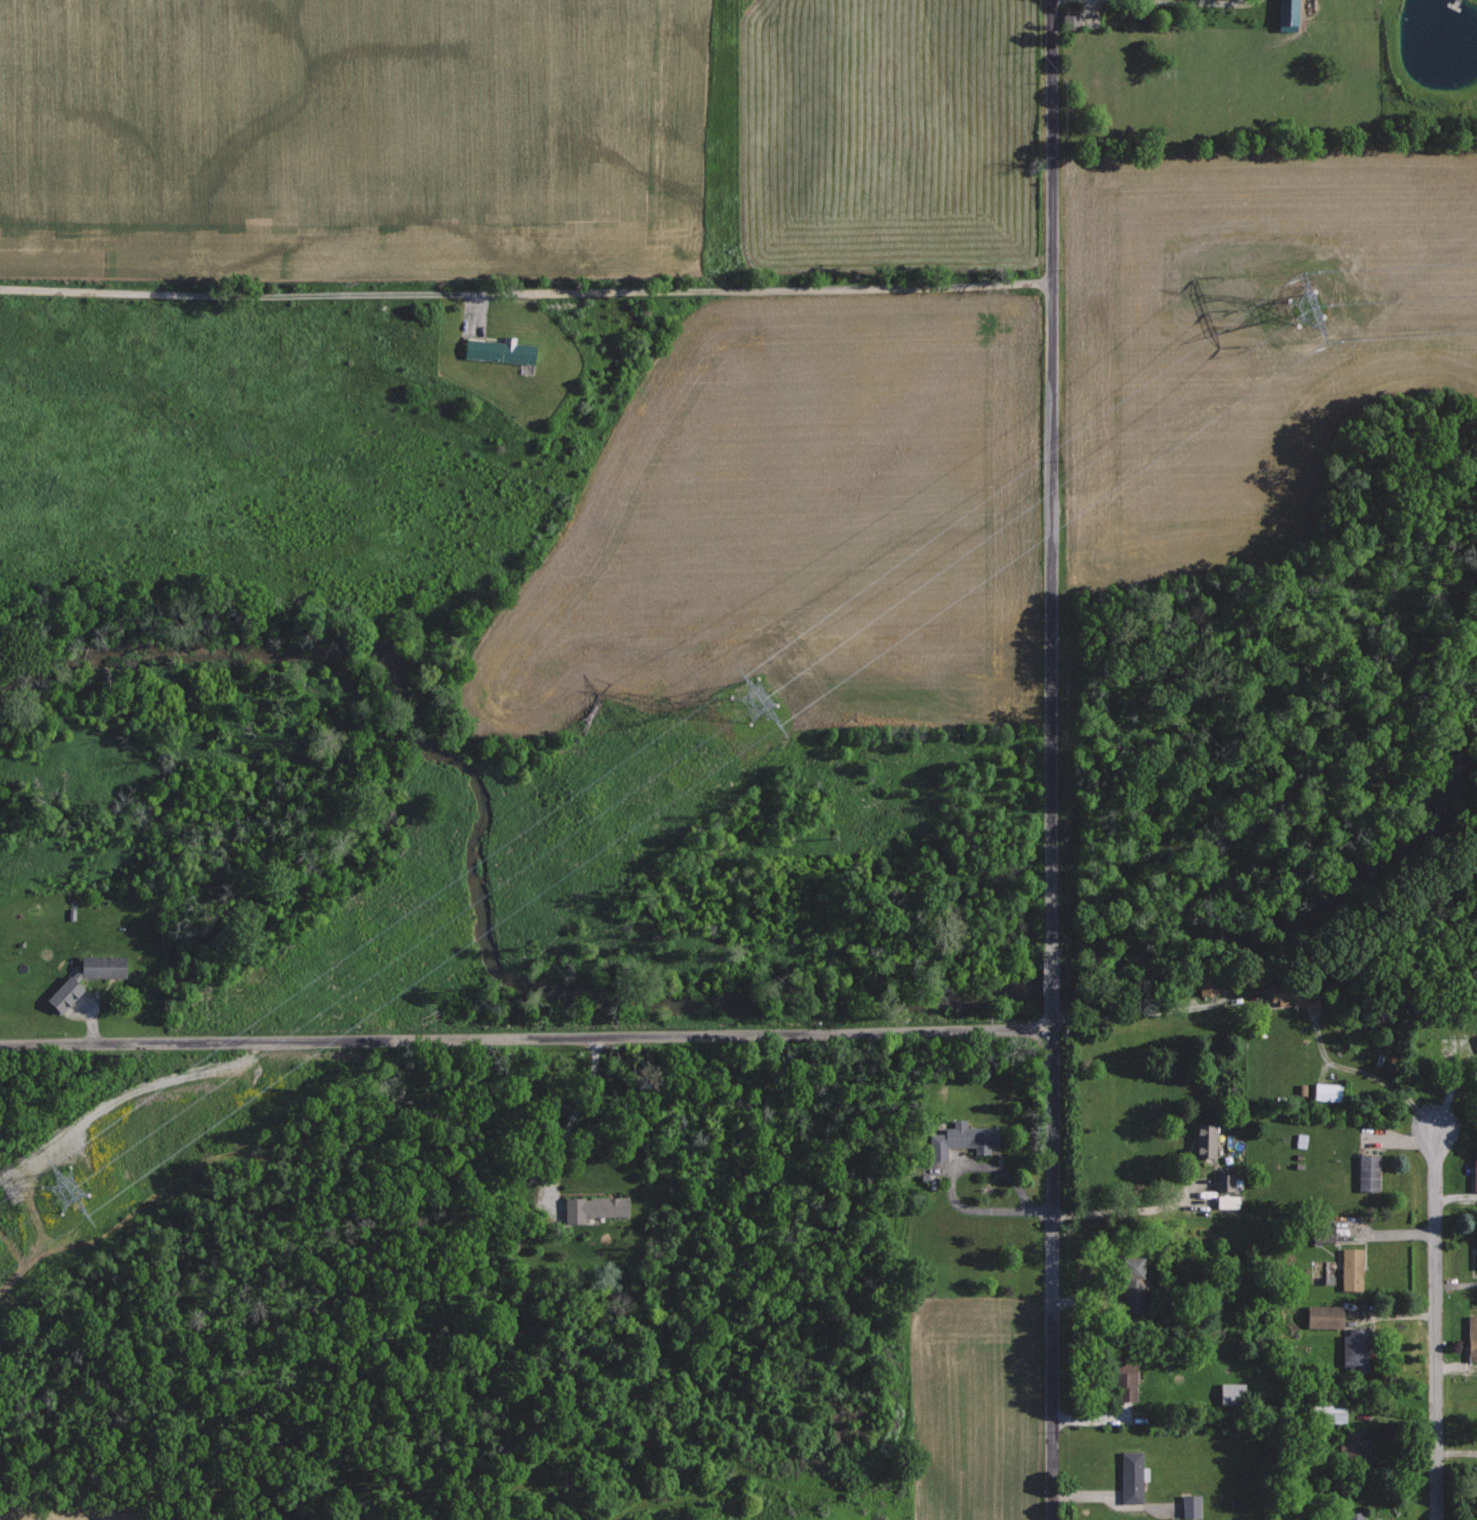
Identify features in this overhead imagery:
building: (1285, 15)
building: (1069, 17)
road: (525, 284)
power tower: (1307, 294)
building: (498, 350)
road: (1051, 476)
power tower: (774, 693)
building: (83, 978)
road: (1051, 983)
building: (1204, 984)
building: (1293, 998)
road: (525, 1036)
building: (1476, 1039)
building: (1325, 1092)
building: (960, 1139)
building: (1203, 1140)
building: (1473, 1169)
building: (1366, 1172)
building: (1222, 1182)
building: (1226, 1201)
power tower: (57, 1203)
building: (592, 1208)
building: (1321, 1234)
building: (1475, 1250)
road: (1051, 1265)
building: (1349, 1269)
building: (1131, 1284)
building: (1322, 1316)
road: (1435, 1324)
building: (1471, 1339)
building: (1353, 1351)
building: (1122, 1381)
building: (1355, 1440)
road: (1230, 1462)
building: (1130, 1476)
building: (1189, 1505)
building: (1353, 1515)

